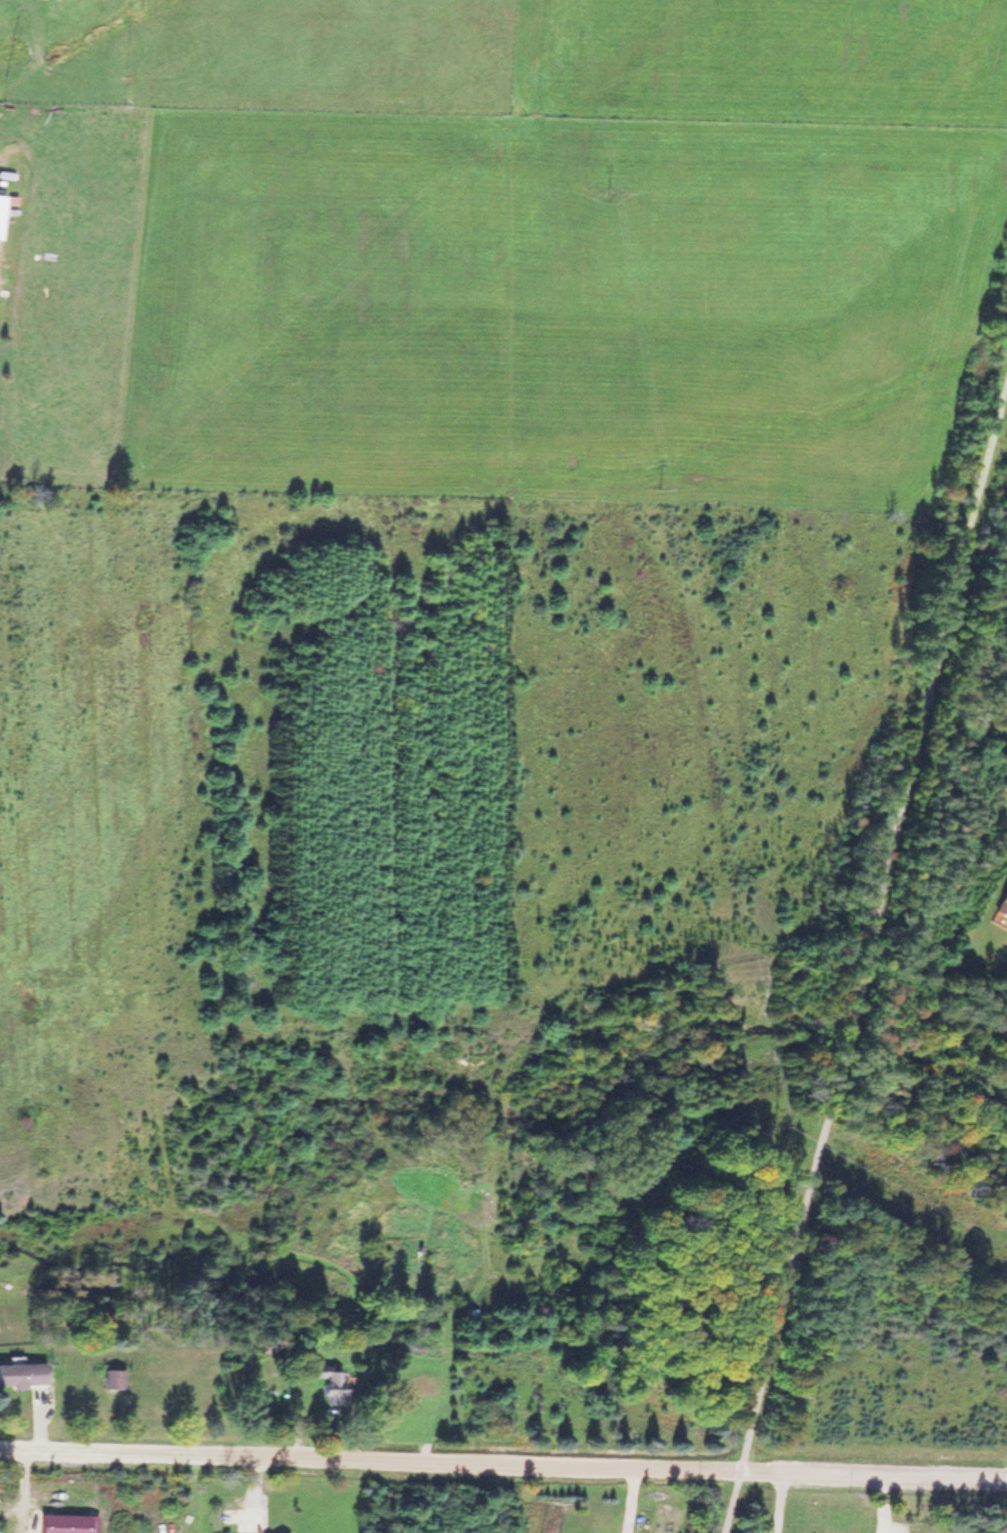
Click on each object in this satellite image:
road: (864, 955)
building: (20, 1372)
building: (109, 1377)
building: (325, 1380)
road: (503, 1459)
road: (776, 1501)

